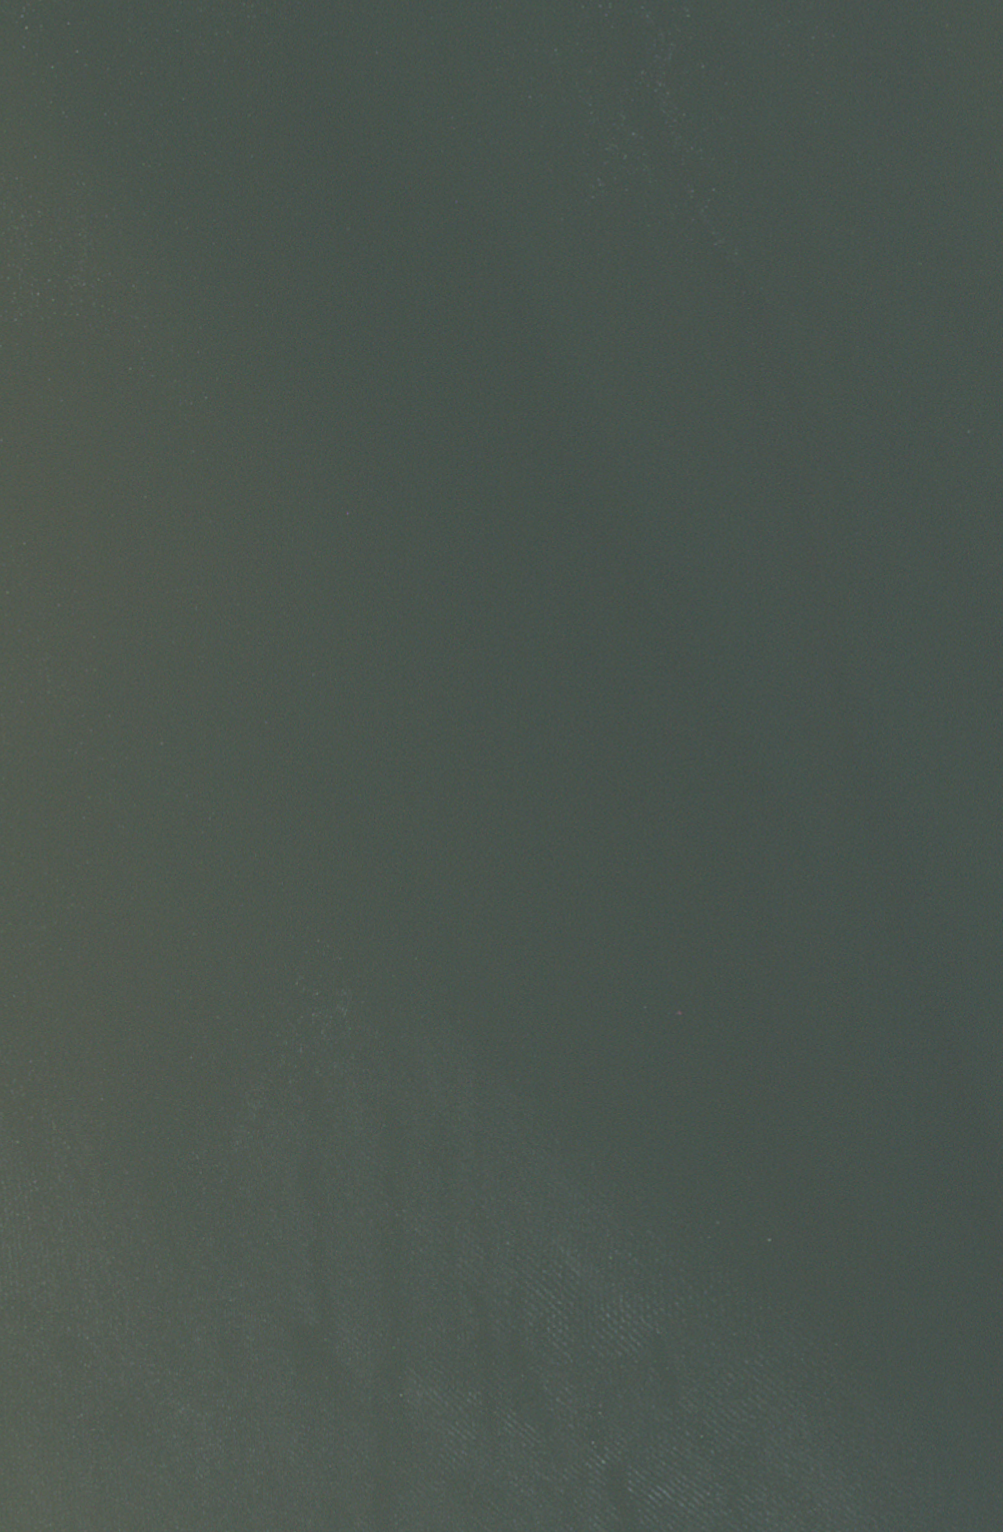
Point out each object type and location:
river: (42, 1397)

